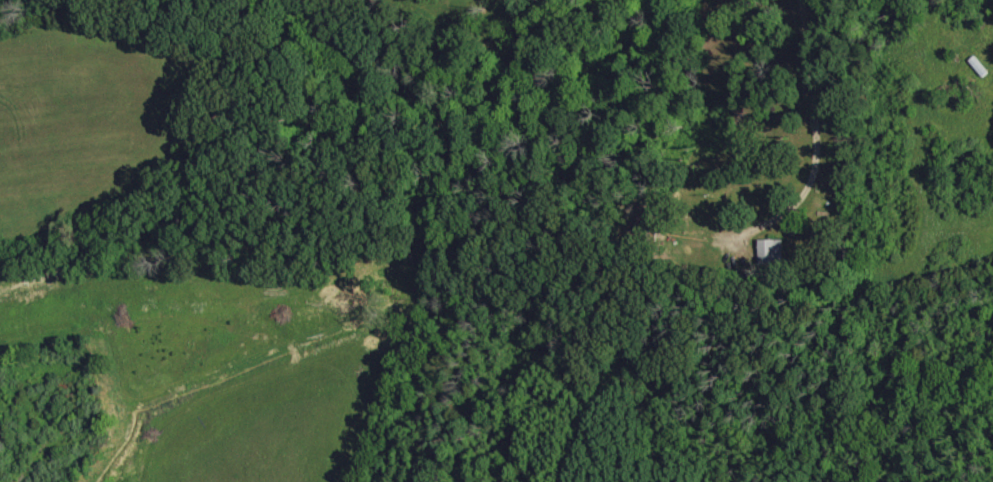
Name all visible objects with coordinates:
road: (814, 129)
building: (771, 251)

